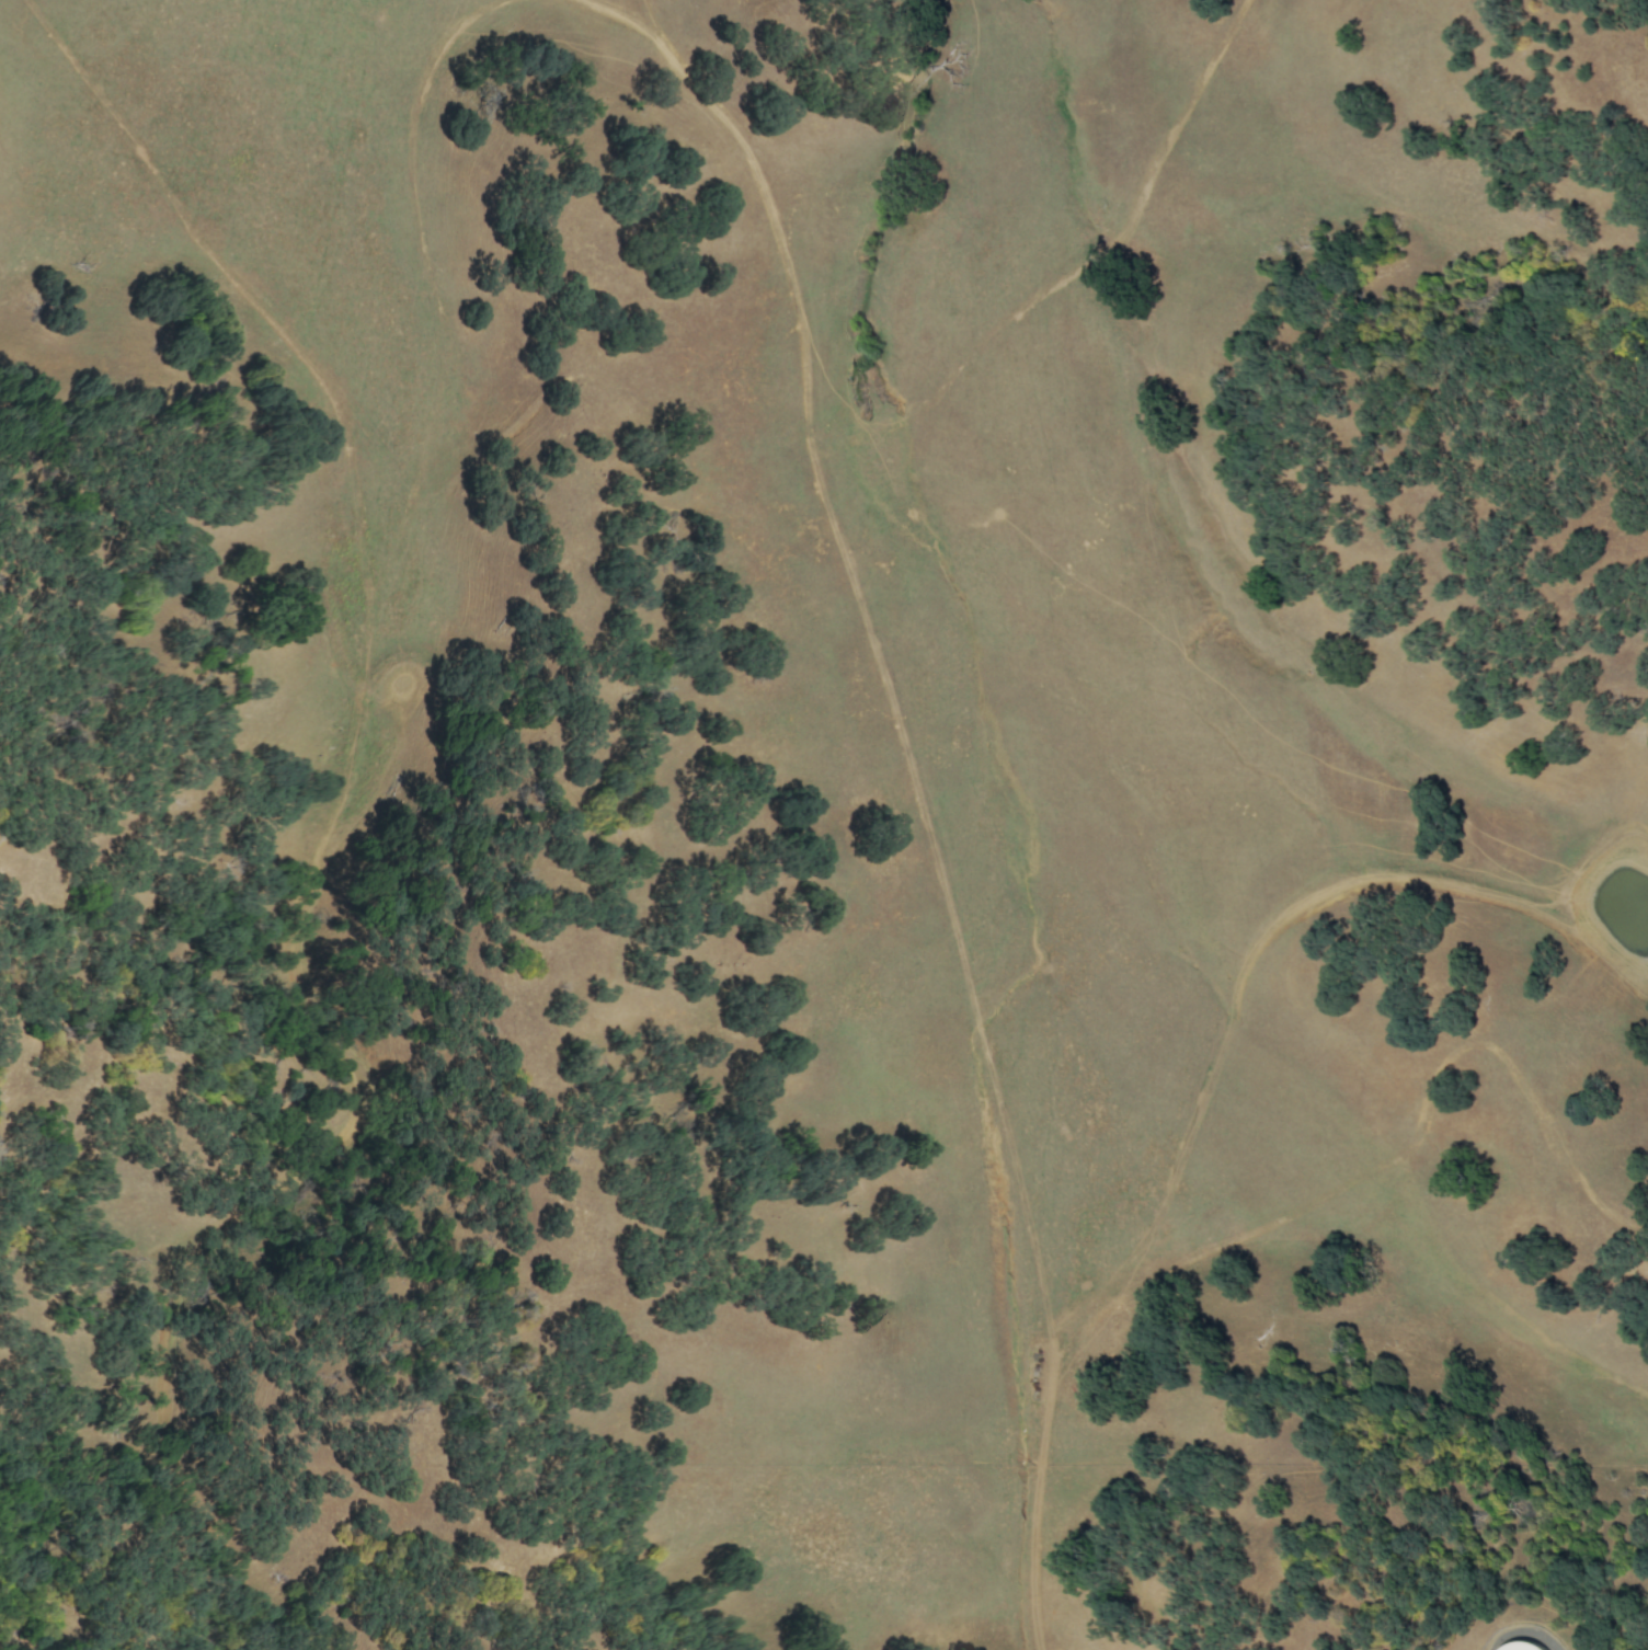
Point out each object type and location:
road: (1526, 1631)
building: (1523, 1647)

